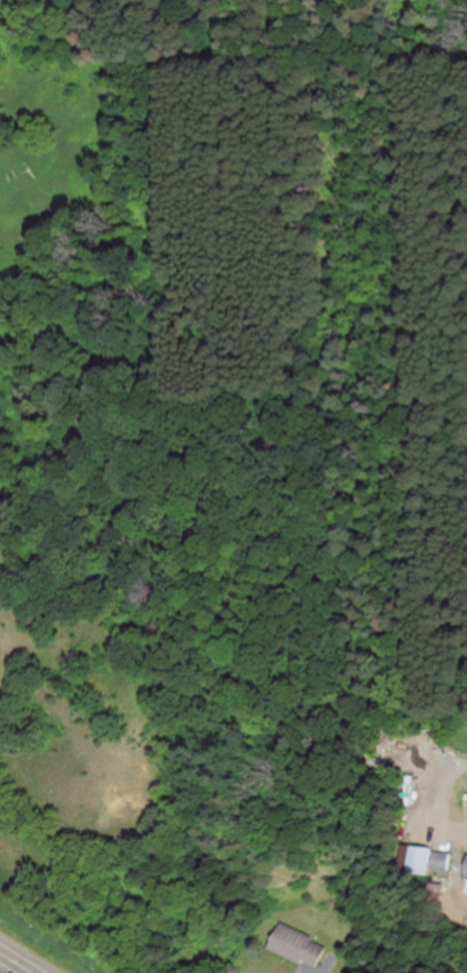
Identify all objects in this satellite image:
road: (444, 787)
building: (433, 859)
building: (300, 944)
road: (19, 960)
road: (317, 972)

